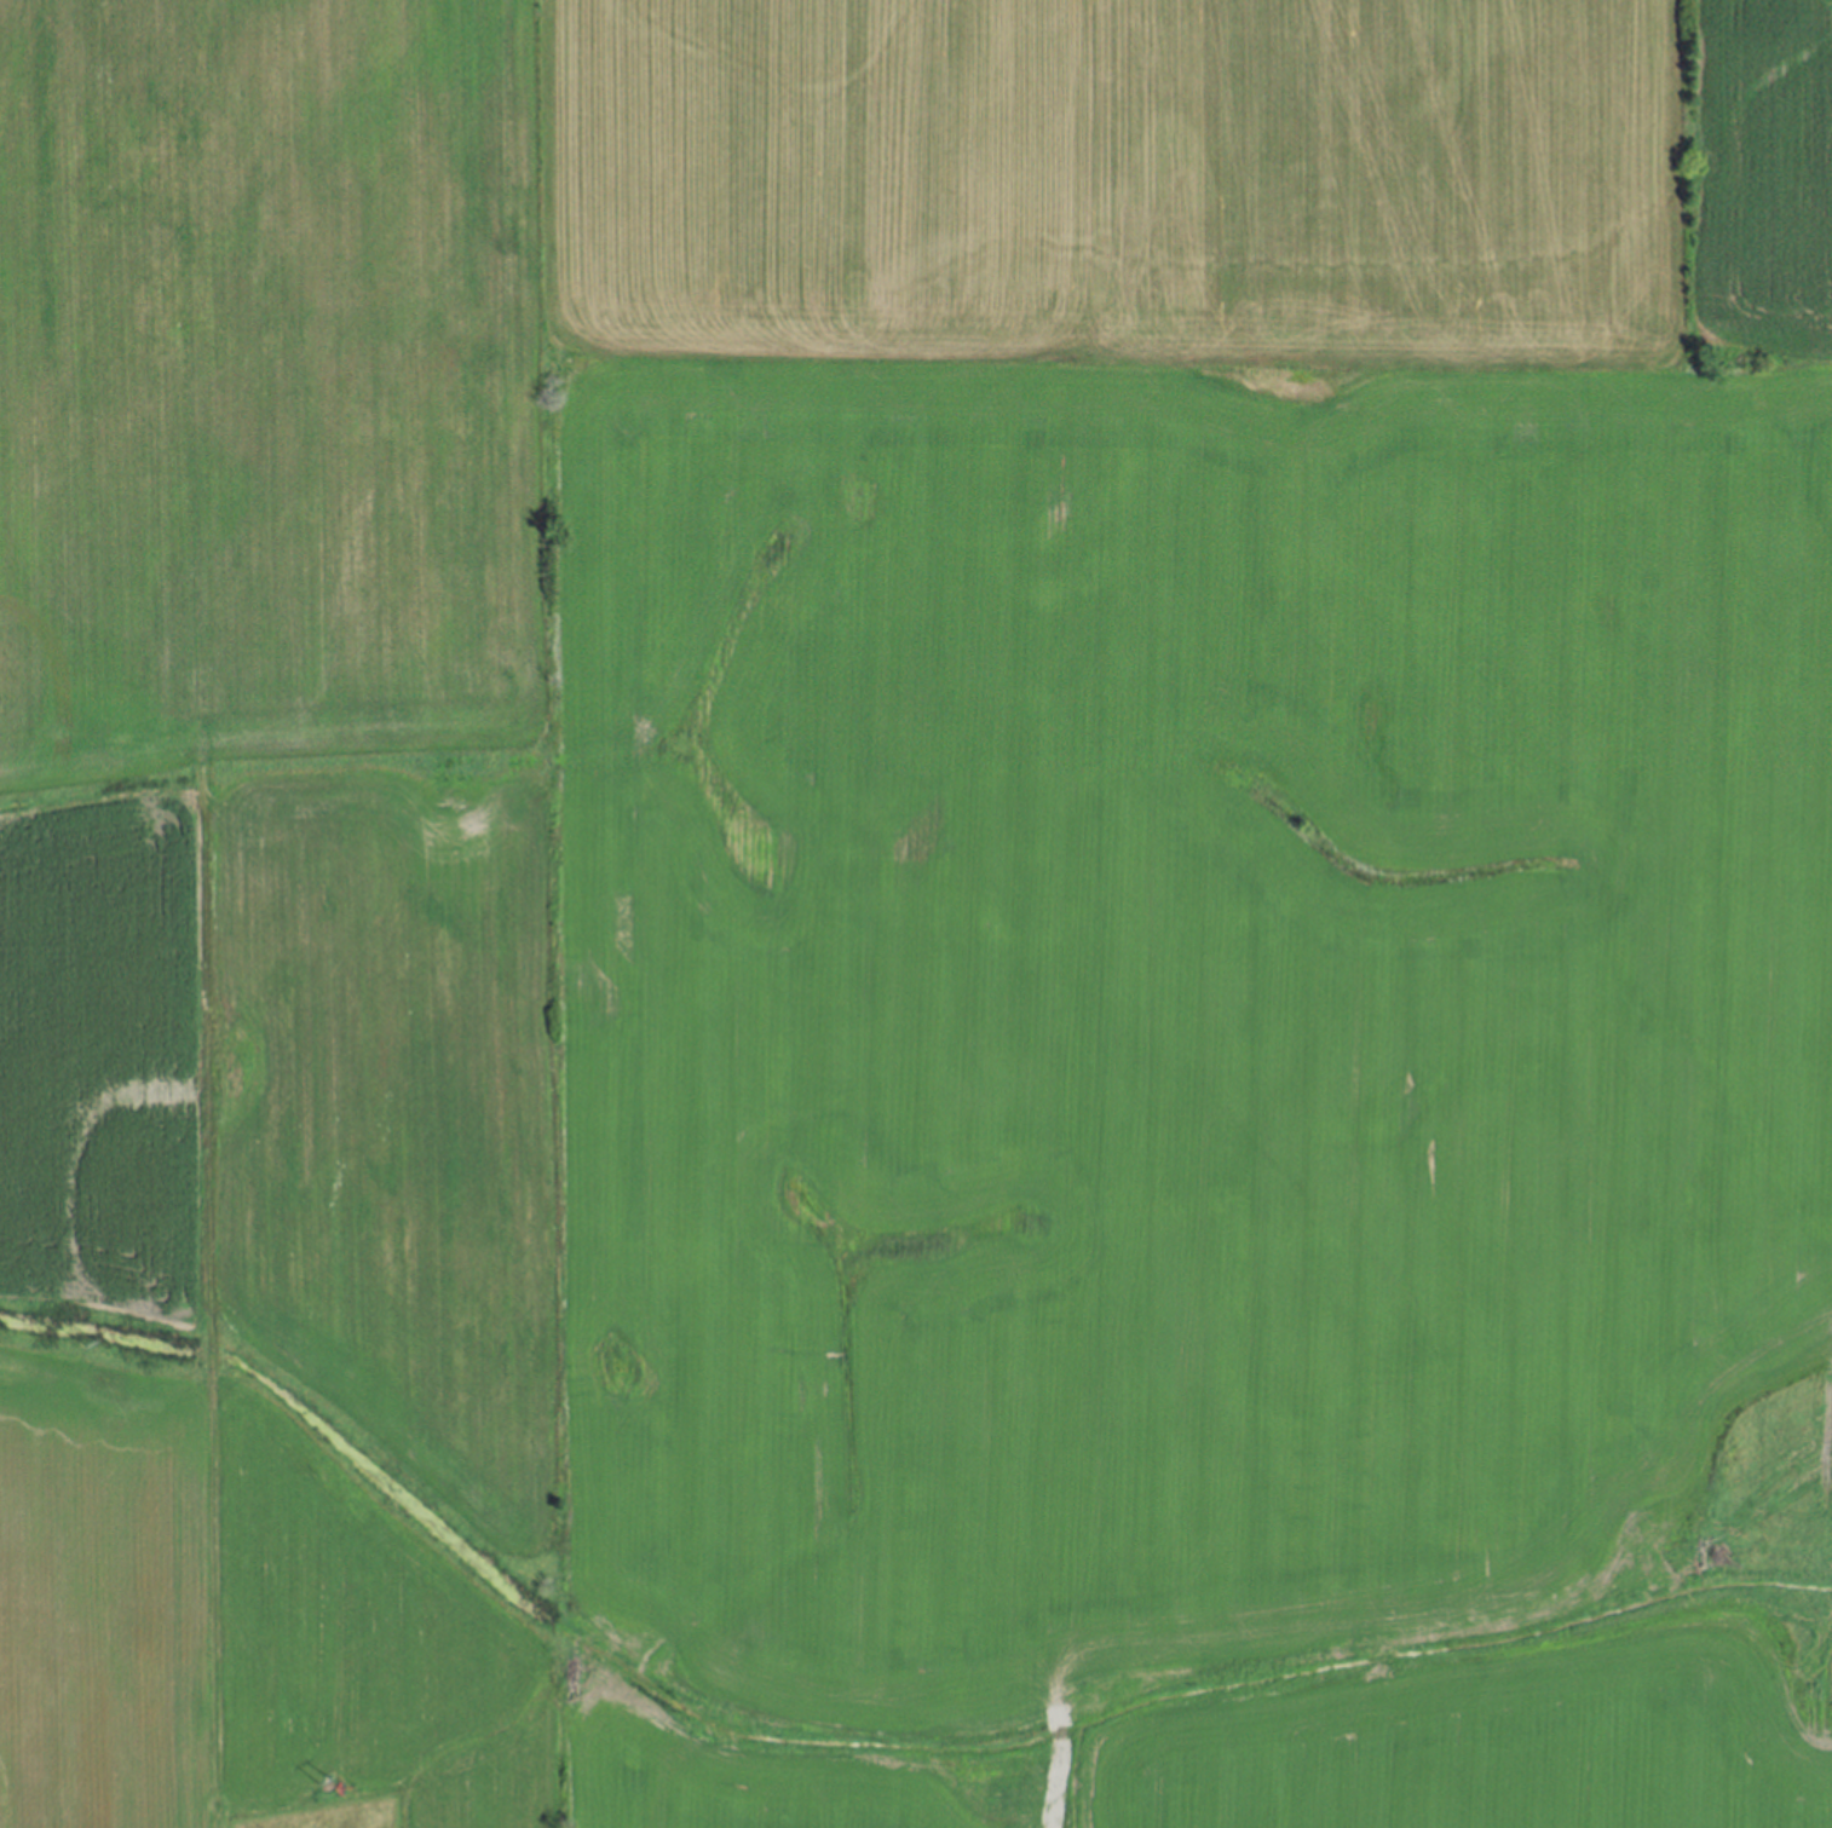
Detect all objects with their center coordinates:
power tower: (92, 1343)
power tower: (326, 1783)

